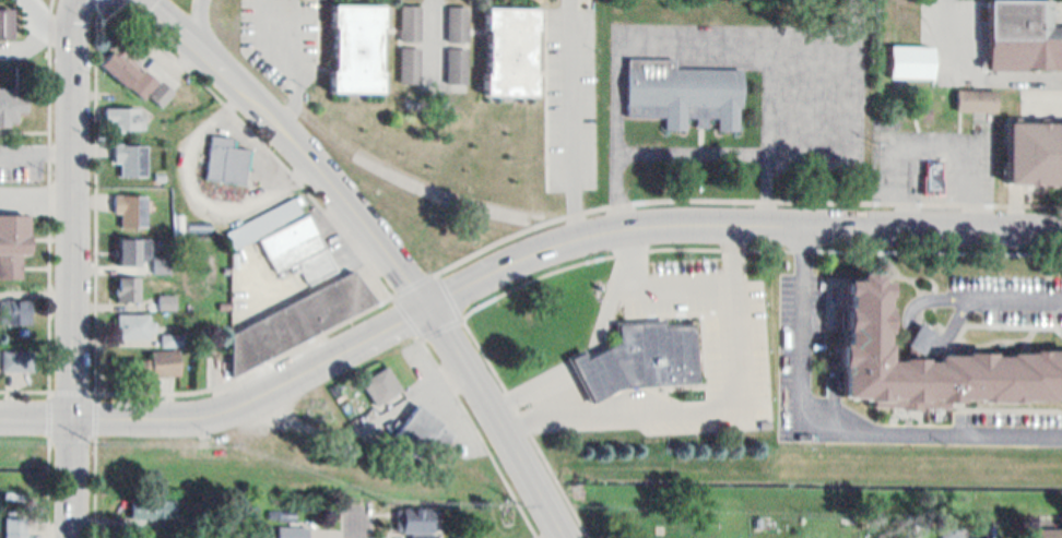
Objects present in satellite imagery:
road: (104, 2)
building: (5, 16)
building: (412, 17)
building: (457, 17)
road: (45, 21)
road: (203, 27)
building: (1022, 34)
parking lot: (283, 35)
road: (691, 41)
building: (356, 43)
building: (510, 46)
road: (31, 48)
road: (836, 48)
building: (911, 56)
building: (118, 59)
building: (410, 60)
building: (458, 60)
road: (293, 63)
road: (976, 73)
building: (151, 85)
parking lot: (815, 91)
parking lot: (570, 92)
building: (683, 93)
building: (16, 100)
building: (975, 100)
road: (571, 104)
building: (123, 112)
road: (260, 135)
road: (298, 141)
building: (1032, 146)
building: (130, 153)
building: (229, 154)
building: (934, 177)
road: (50, 192)
road: (96, 194)
road: (740, 195)
building: (132, 202)
road: (736, 223)
building: (14, 226)
building: (285, 240)
building: (131, 244)
road: (754, 246)
road: (73, 268)
road: (617, 277)
building: (126, 284)
road: (447, 292)
road: (1008, 294)
parking lot: (1008, 295)
building: (15, 306)
building: (295, 315)
building: (133, 320)
road: (909, 324)
road: (420, 331)
parking lot: (800, 336)
building: (916, 336)
parking lot: (716, 338)
building: (173, 340)
building: (922, 349)
building: (633, 351)
road: (595, 356)
building: (152, 357)
building: (0, 358)
building: (16, 361)
road: (227, 374)
building: (379, 384)
road: (737, 393)
road: (259, 394)
road: (536, 398)
road: (1001, 406)
parking lot: (1010, 414)
road: (36, 417)
road: (496, 420)
road: (838, 422)
road: (526, 426)
building: (415, 427)
road: (482, 435)
street lamp: (94, 445)
road: (49, 462)
road: (95, 462)
building: (155, 504)
building: (413, 514)
building: (16, 526)
road: (364, 527)
building: (287, 529)
building: (1050, 531)

